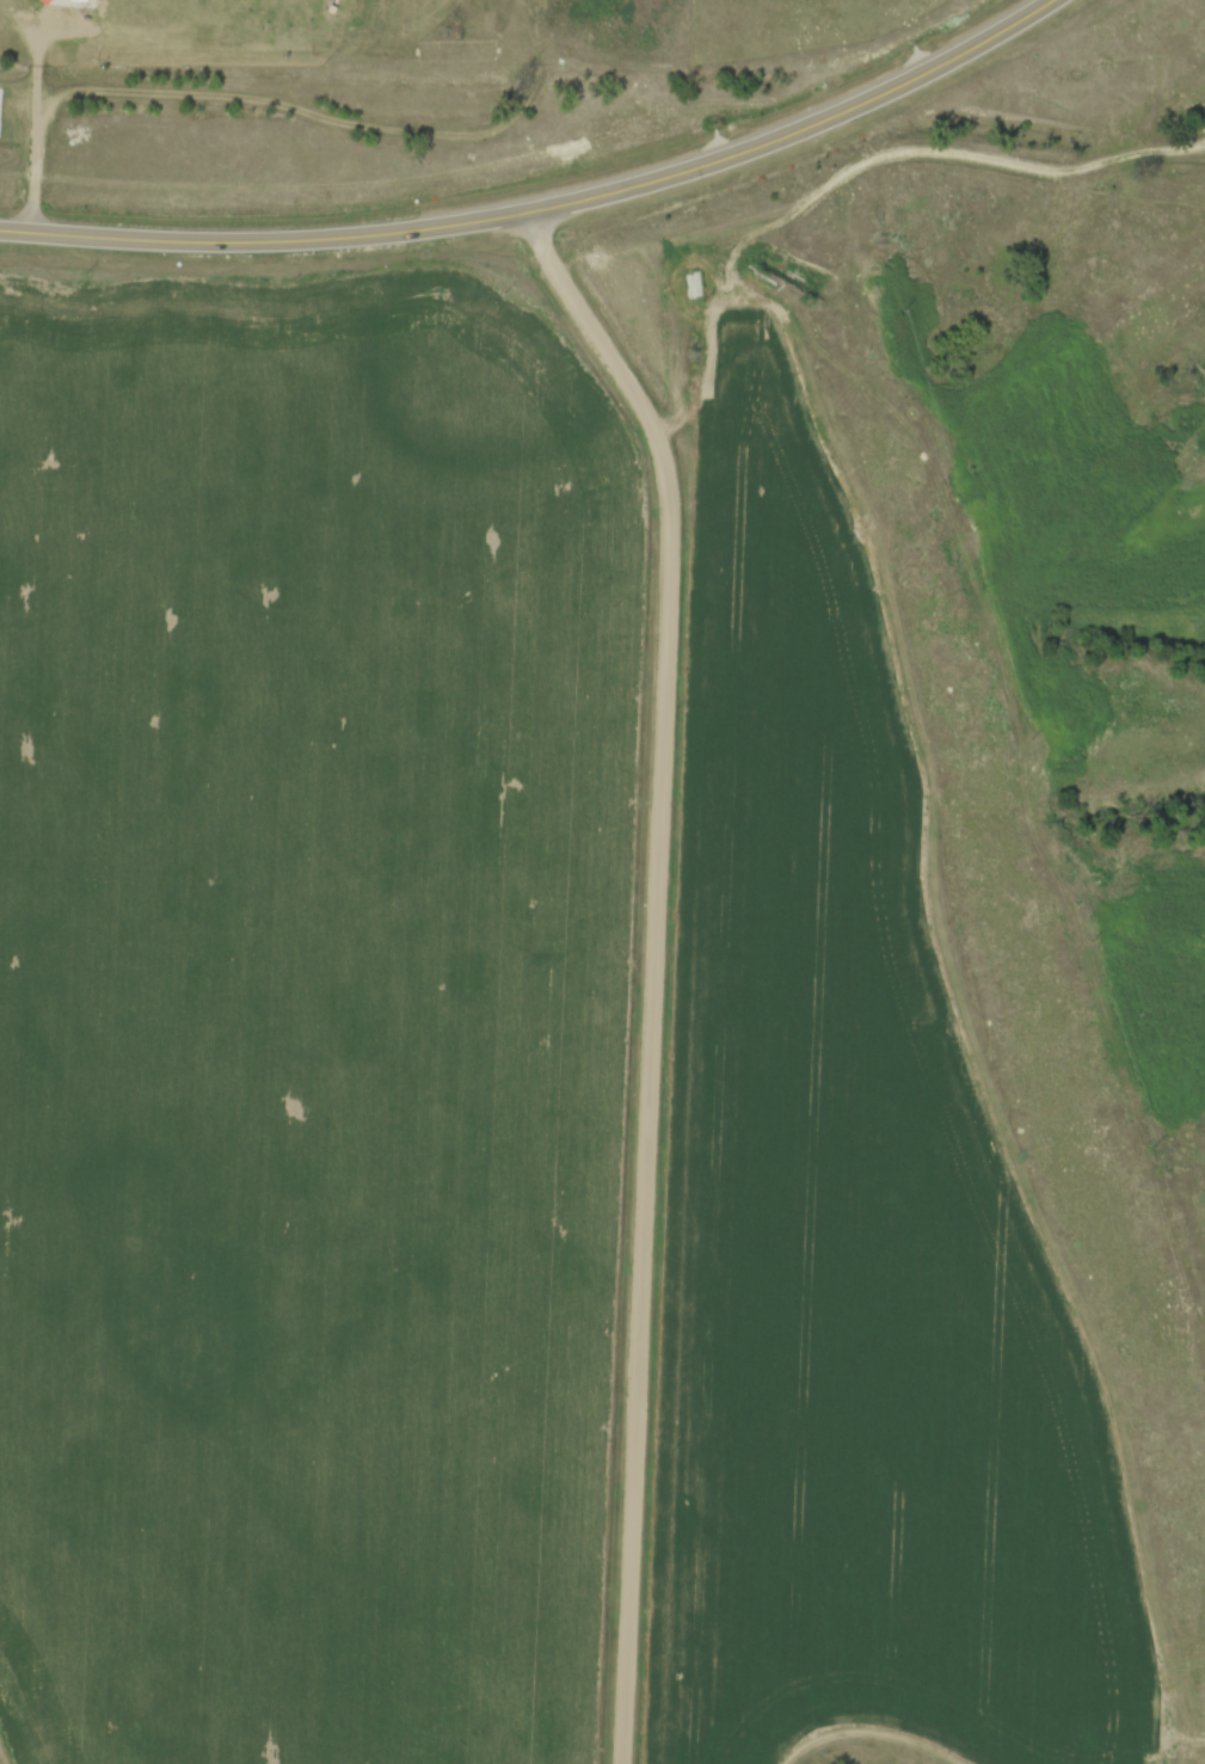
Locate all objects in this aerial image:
building: (43, 2)
building: (79, 4)
building: (634, 26)
road: (287, 105)
road: (543, 207)
road: (652, 967)
crop: (312, 1018)

